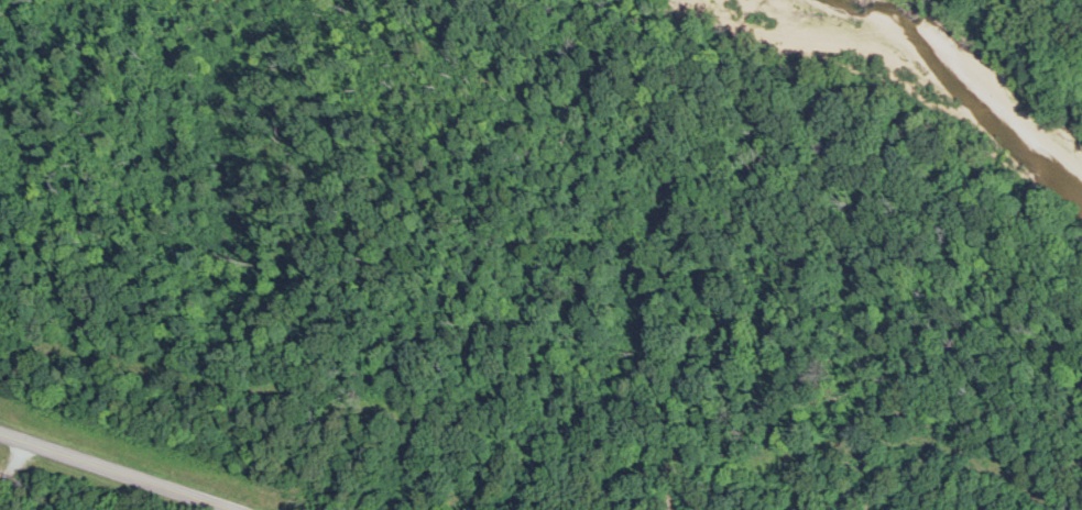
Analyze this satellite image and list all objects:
river: (874, 41)
road: (120, 472)

